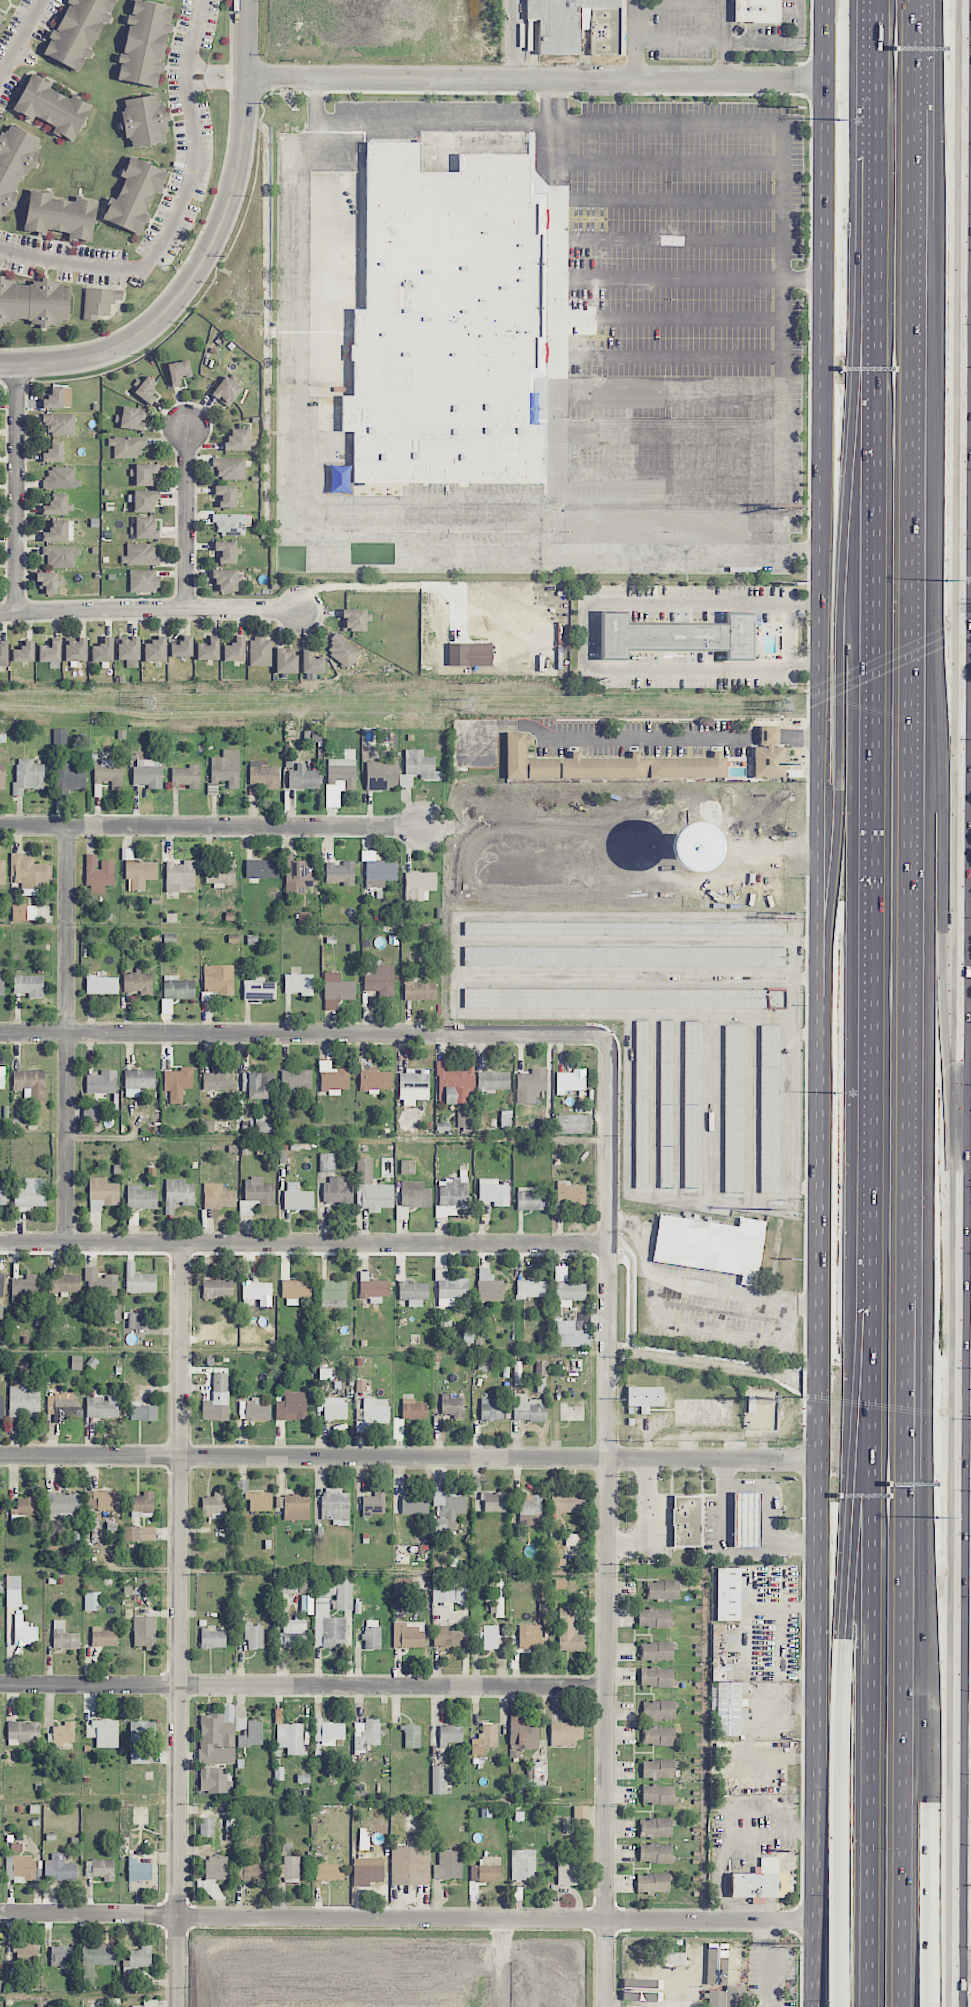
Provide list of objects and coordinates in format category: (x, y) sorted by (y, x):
road: (969, 0)
building: (755, 10)
building: (1, 19)
road: (967, 20)
building: (559, 23)
building: (604, 30)
building: (77, 31)
road: (19, 38)
road: (248, 38)
road: (510, 38)
road: (636, 38)
road: (724, 38)
building: (145, 43)
road: (782, 43)
road: (909, 54)
road: (194, 76)
road: (225, 76)
road: (537, 76)
road: (881, 86)
road: (969, 97)
road: (553, 98)
building: (51, 106)
road: (637, 119)
building: (144, 121)
road: (826, 125)
building: (15, 162)
road: (667, 163)
road: (968, 171)
building: (135, 196)
road: (667, 202)
road: (179, 210)
building: (60, 214)
road: (911, 245)
road: (968, 256)
road: (649, 267)
road: (803, 277)
road: (189, 282)
building: (33, 301)
building: (98, 302)
road: (968, 307)
road: (556, 317)
building: (445, 321)
road: (649, 340)
building: (179, 371)
building: (146, 390)
building: (226, 391)
road: (603, 397)
building: (58, 398)
road: (715, 398)
road: (965, 398)
building: (133, 418)
building: (59, 423)
road: (669, 435)
building: (238, 440)
building: (127, 446)
building: (54, 452)
building: (229, 467)
building: (145, 473)
road: (669, 475)
building: (61, 478)
road: (17, 489)
road: (967, 493)
building: (226, 495)
road: (669, 500)
building: (145, 501)
road: (425, 512)
road: (665, 513)
road: (187, 520)
building: (231, 523)
building: (146, 528)
building: (56, 531)
road: (558, 531)
road: (729, 531)
road: (845, 547)
road: (348, 549)
building: (228, 551)
road: (691, 553)
building: (139, 555)
building: (61, 556)
building: (143, 581)
building: (49, 582)
road: (825, 587)
road: (150, 610)
building: (355, 619)
road: (590, 634)
building: (674, 636)
building: (182, 647)
building: (128, 648)
building: (76, 650)
building: (155, 650)
building: (208, 650)
building: (234, 650)
building: (103, 651)
building: (260, 651)
building: (343, 651)
building: (24, 652)
building: (50, 652)
building: (4, 653)
building: (285, 661)
building: (312, 663)
power tower: (148, 702)
power tower: (465, 704)
power tower: (782, 706)
road: (966, 715)
building: (59, 736)
road: (609, 736)
road: (769, 736)
road: (801, 736)
building: (769, 755)
road: (938, 760)
building: (605, 764)
building: (417, 767)
building: (226, 768)
building: (342, 772)
building: (67, 773)
building: (108, 773)
building: (148, 773)
building: (264, 774)
building: (28, 775)
building: (381, 775)
building: (2, 776)
building: (186, 776)
building: (303, 778)
road: (876, 813)
road: (212, 825)
building: (261, 868)
building: (378, 870)
building: (2, 872)
building: (139, 872)
building: (220, 873)
building: (341, 873)
building: (99, 874)
building: (299, 876)
building: (179, 877)
building: (24, 912)
building: (625, 928)
road: (960, 946)
building: (623, 956)
road: (965, 976)
building: (218, 979)
building: (378, 979)
building: (138, 982)
building: (299, 983)
building: (1, 984)
building: (101, 984)
building: (29, 985)
building: (178, 988)
building: (258, 989)
building: (337, 989)
building: (420, 990)
road: (965, 993)
building: (624, 998)
road: (68, 1033)
road: (305, 1033)
building: (2, 1077)
building: (333, 1078)
building: (374, 1078)
building: (491, 1078)
building: (139, 1079)
building: (218, 1080)
building: (570, 1080)
building: (295, 1081)
building: (455, 1081)
building: (101, 1082)
building: (177, 1083)
building: (30, 1084)
building: (259, 1085)
building: (530, 1085)
building: (413, 1086)
building: (641, 1103)
building: (666, 1104)
building: (690, 1104)
building: (733, 1108)
building: (769, 1108)
building: (90, 1113)
road: (965, 1114)
building: (465, 1118)
building: (572, 1123)
building: (265, 1124)
road: (965, 1154)
building: (326, 1162)
building: (407, 1167)
building: (371, 1188)
building: (337, 1190)
building: (493, 1192)
building: (2, 1193)
building: (102, 1193)
building: (570, 1193)
building: (178, 1194)
road: (906, 1194)
building: (30, 1195)
building: (256, 1195)
building: (452, 1195)
building: (218, 1196)
building: (141, 1197)
building: (297, 1197)
building: (412, 1197)
building: (531, 1198)
road: (965, 1221)
road: (304, 1241)
building: (710, 1245)
building: (139, 1280)
building: (99, 1283)
building: (1, 1284)
building: (64, 1284)
building: (489, 1286)
building: (372, 1287)
road: (698, 1287)
building: (27, 1288)
building: (217, 1288)
building: (450, 1288)
building: (567, 1288)
building: (531, 1289)
building: (295, 1291)
building: (257, 1292)
building: (413, 1292)
building: (333, 1293)
building: (135, 1320)
road: (716, 1327)
building: (571, 1334)
building: (645, 1397)
building: (23, 1398)
building: (217, 1399)
building: (61, 1404)
building: (751, 1404)
building: (102, 1405)
building: (291, 1406)
building: (453, 1406)
building: (1, 1407)
building: (334, 1408)
building: (528, 1408)
building: (253, 1409)
building: (413, 1409)
building: (491, 1410)
building: (143, 1411)
building: (372, 1414)
road: (965, 1438)
road: (410, 1455)
road: (821, 1465)
building: (102, 1500)
building: (259, 1500)
building: (494, 1501)
building: (569, 1502)
building: (373, 1503)
building: (335, 1504)
building: (414, 1504)
building: (62, 1505)
building: (213, 1505)
building: (293, 1506)
building: (447, 1508)
building: (530, 1509)
road: (648, 1515)
building: (745, 1518)
gas station: (745, 1518)
building: (686, 1520)
road: (608, 1524)
building: (139, 1533)
road: (796, 1541)
road: (755, 1552)
road: (959, 1572)
building: (287, 1584)
building: (662, 1589)
building: (453, 1592)
building: (344, 1593)
building: (728, 1593)
building: (499, 1598)
building: (92, 1600)
building: (327, 1617)
building: (655, 1618)
building: (1, 1620)
road: (179, 1624)
building: (24, 1632)
building: (145, 1632)
building: (295, 1632)
building: (568, 1632)
building: (371, 1634)
building: (408, 1634)
building: (254, 1635)
building: (64, 1636)
building: (530, 1636)
building: (104, 1637)
building: (446, 1637)
building: (490, 1637)
building: (213, 1639)
building: (718, 1645)
building: (657, 1651)
building: (656, 1677)
road: (304, 1684)
road: (791, 1706)
building: (731, 1707)
road: (965, 1709)
building: (658, 1710)
road: (846, 1730)
building: (142, 1731)
road: (873, 1731)
building: (23, 1732)
building: (249, 1732)
building: (328, 1732)
building: (522, 1732)
building: (0, 1733)
building: (63, 1733)
building: (103, 1733)
building: (565, 1733)
building: (366, 1734)
building: (449, 1734)
building: (489, 1735)
building: (658, 1735)
building: (412, 1736)
building: (217, 1737)
road: (931, 1737)
building: (291, 1738)
road: (965, 1751)
building: (139, 1756)
building: (658, 1768)
building: (536, 1775)
building: (438, 1779)
building: (214, 1780)
building: (658, 1794)
building: (581, 1816)
building: (207, 1826)
building: (655, 1827)
building: (655, 1853)
building: (522, 1864)
building: (410, 1865)
building: (448, 1865)
building: (216, 1867)
building: (59, 1868)
building: (100, 1868)
building: (291, 1869)
building: (139, 1870)
building: (487, 1870)
building: (568, 1870)
building: (251, 1871)
building: (329, 1871)
building: (368, 1871)
building: (759, 1881)
building: (653, 1882)
road: (410, 1917)
building: (27, 1954)
building: (61, 1956)
building: (673, 1958)
building: (701, 1958)
building: (137, 1959)
building: (95, 1960)
building: (729, 1963)
road: (966, 1968)
road: (801, 1973)
building: (645, 1986)
building: (727, 1997)
building: (150, 2003)
building: (137, 2006)
building: (638, 2006)

